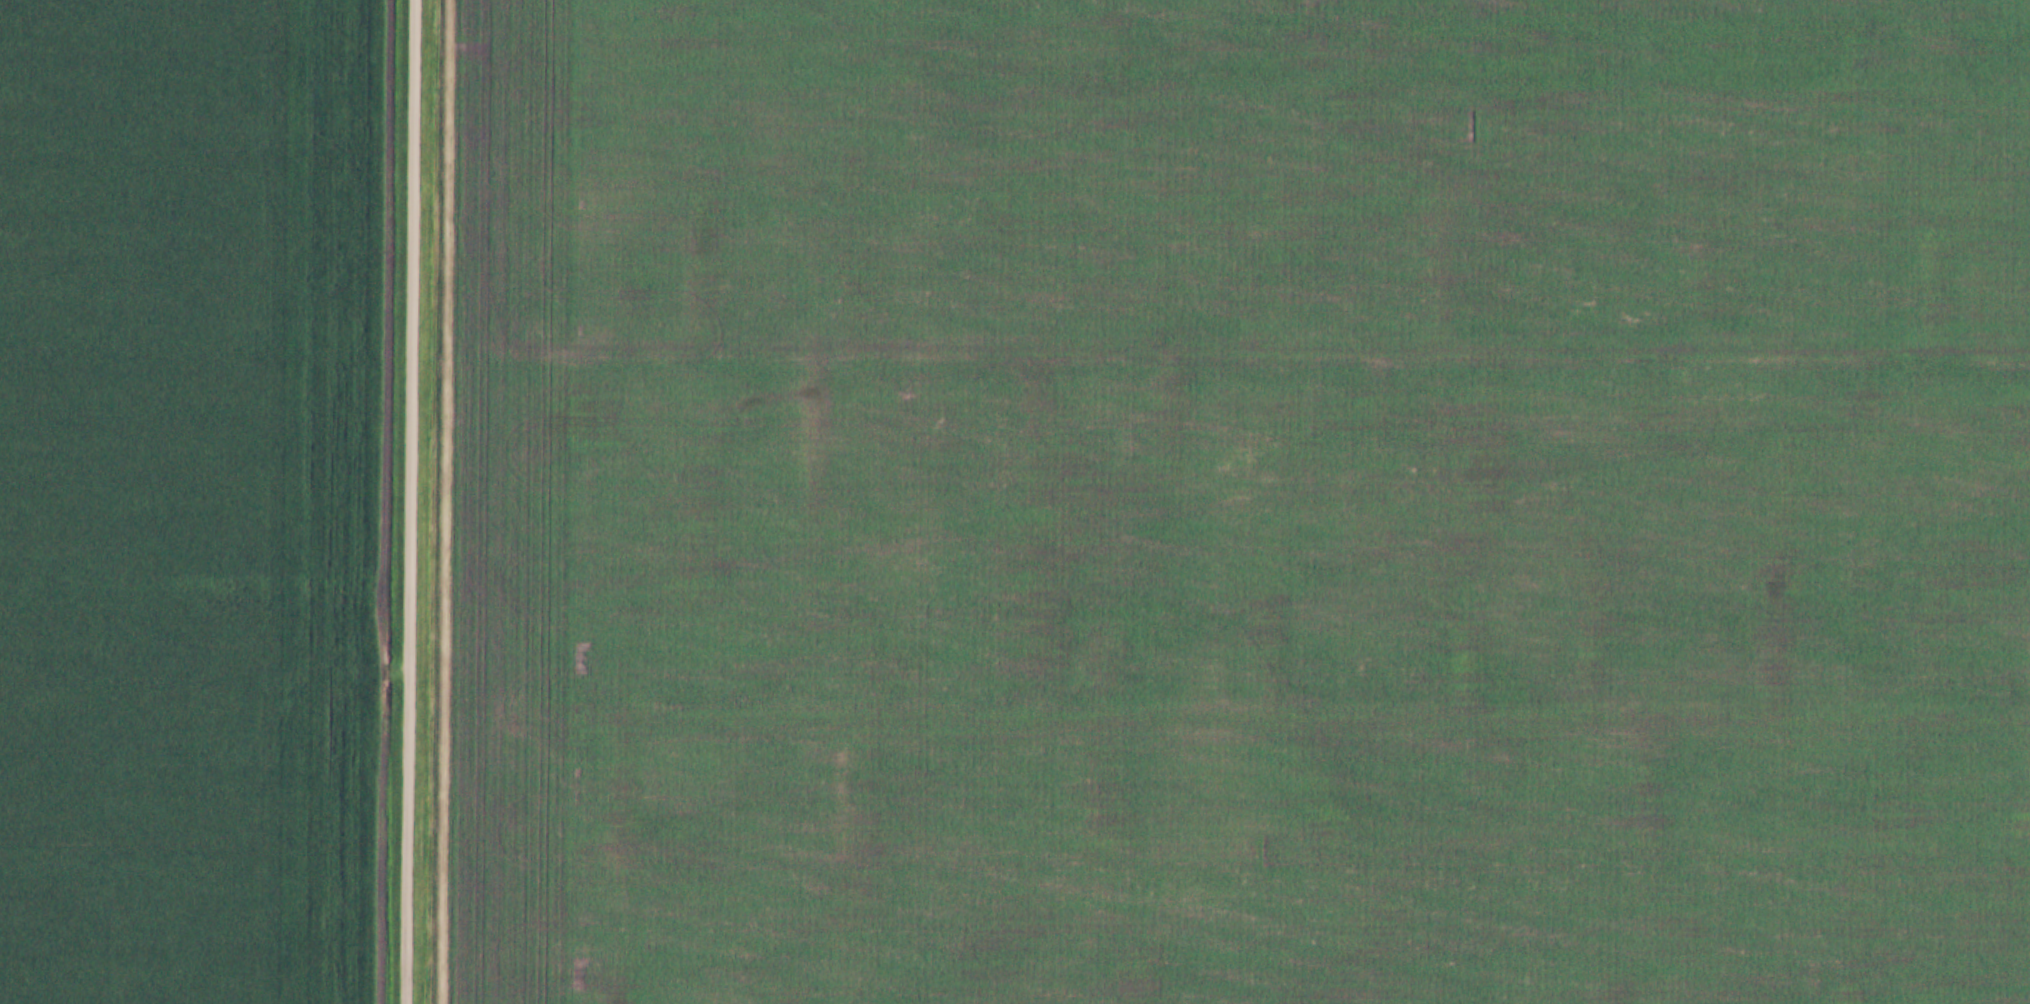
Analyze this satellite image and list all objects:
road: (408, 502)

